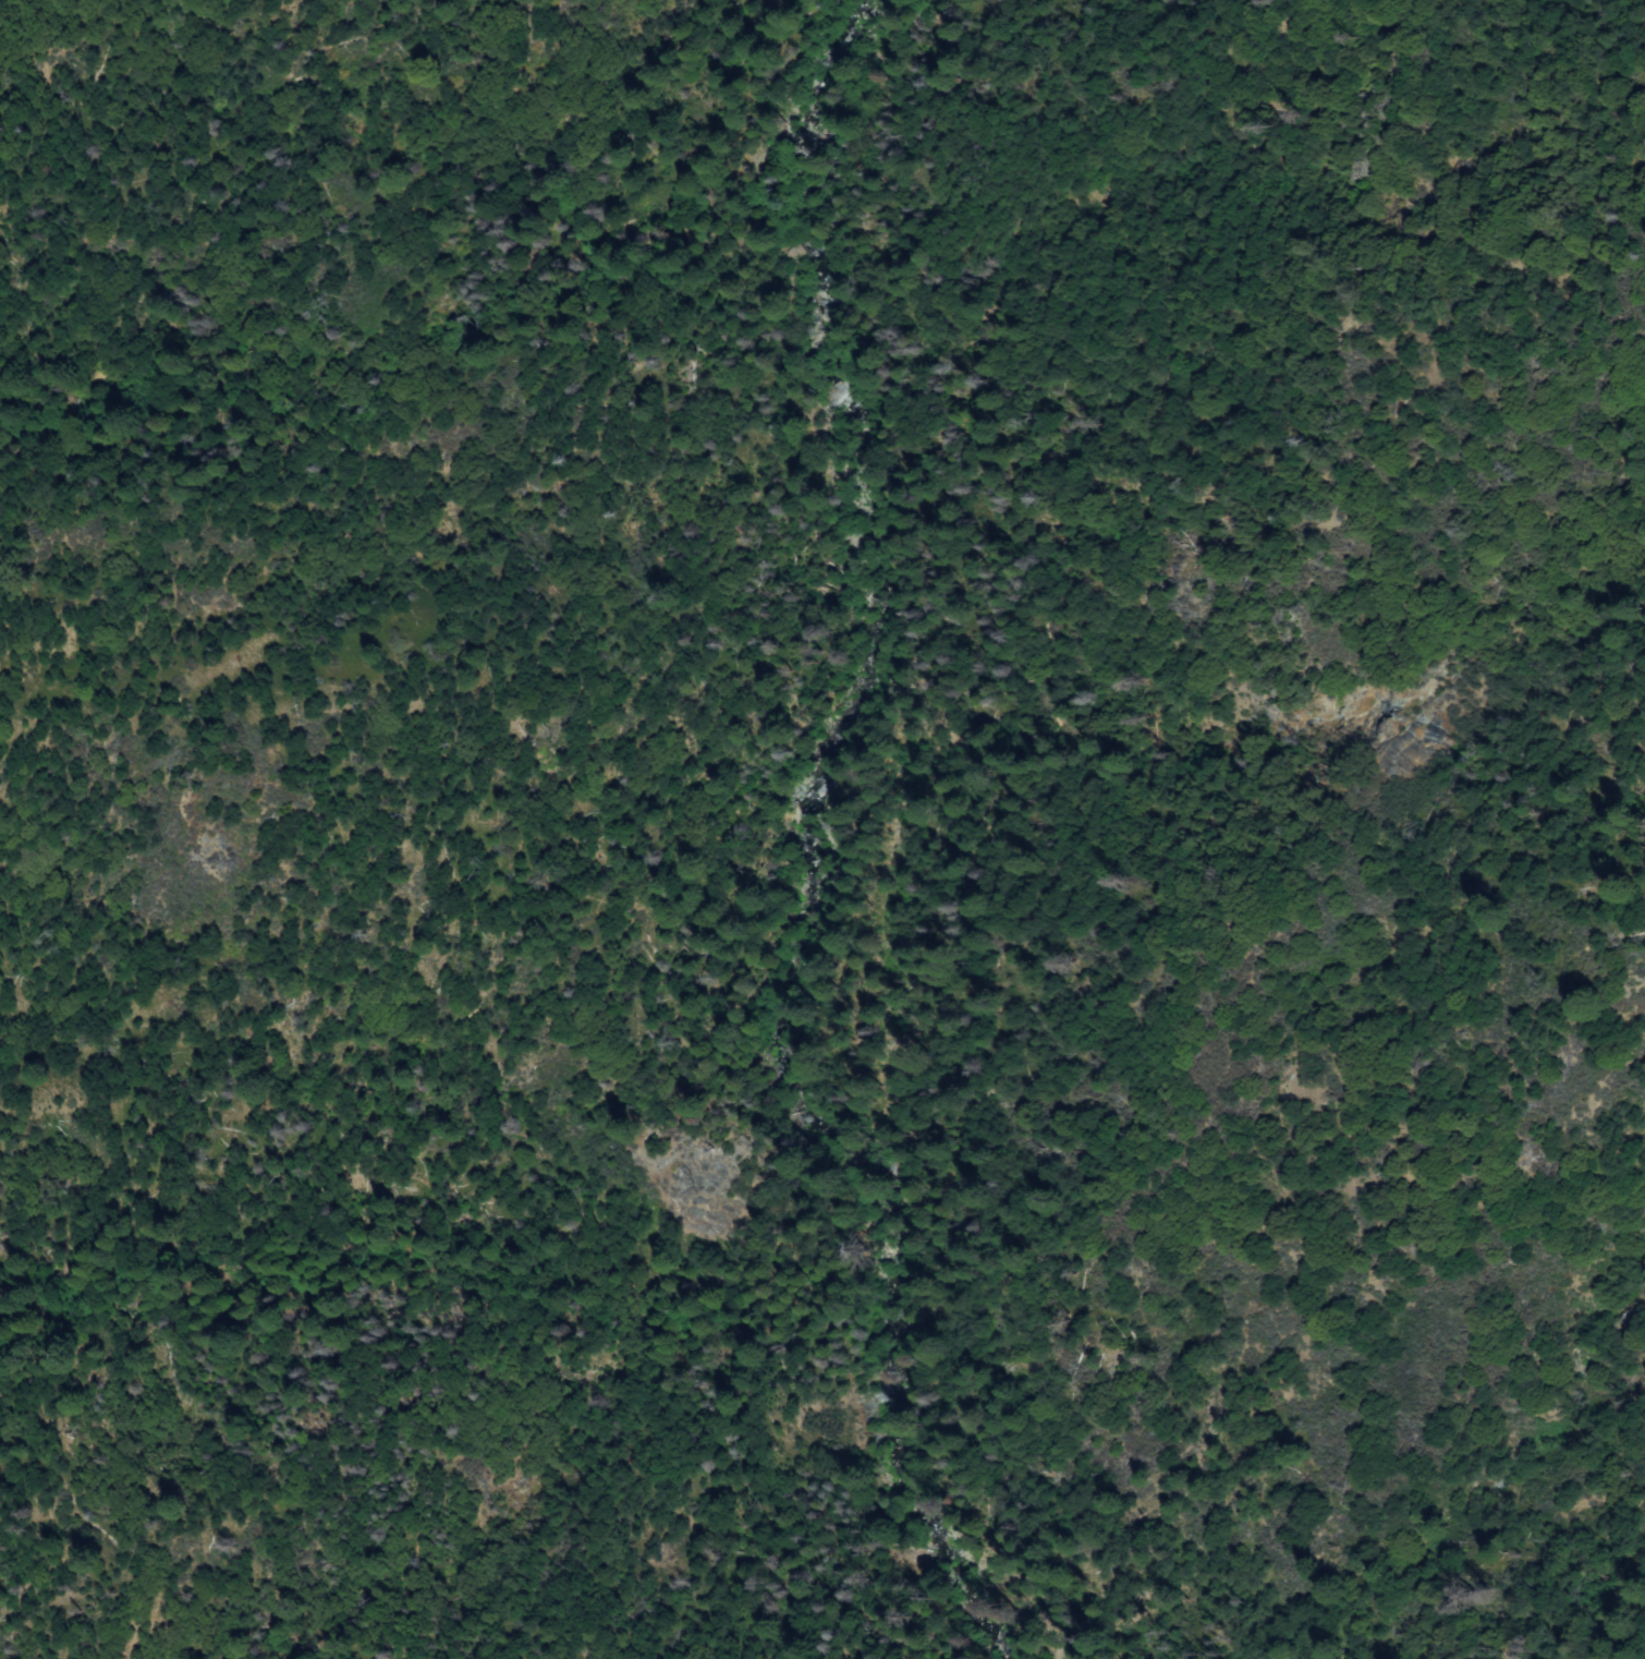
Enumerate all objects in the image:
river: (808, 850)

